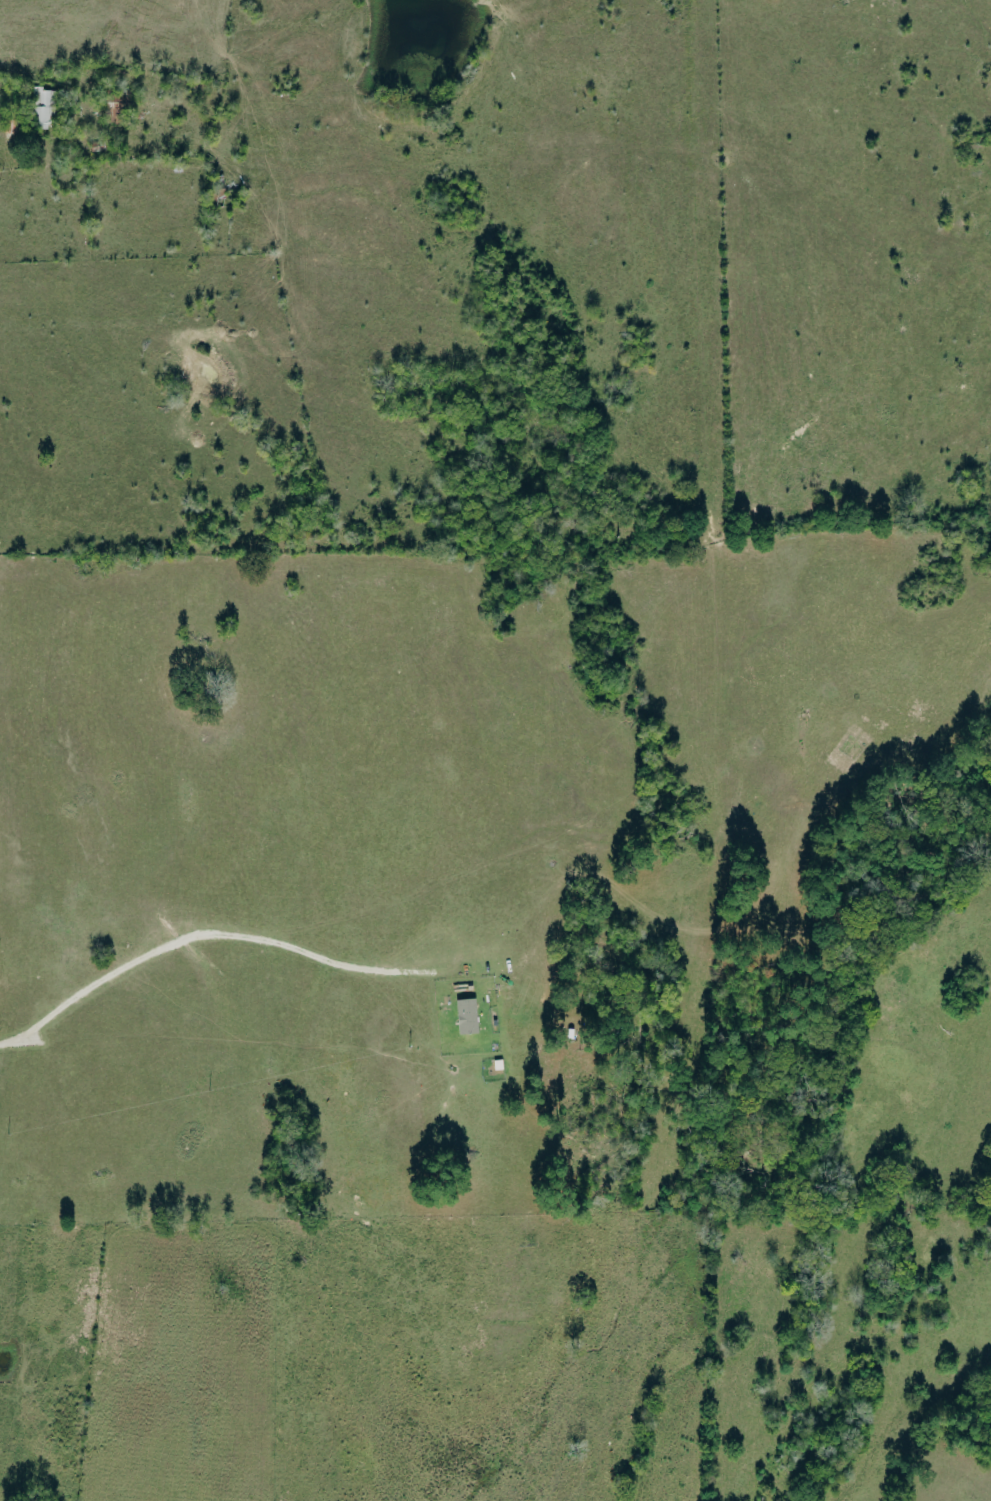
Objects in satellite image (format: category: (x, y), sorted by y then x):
building: (44, 109)
building: (470, 1017)

